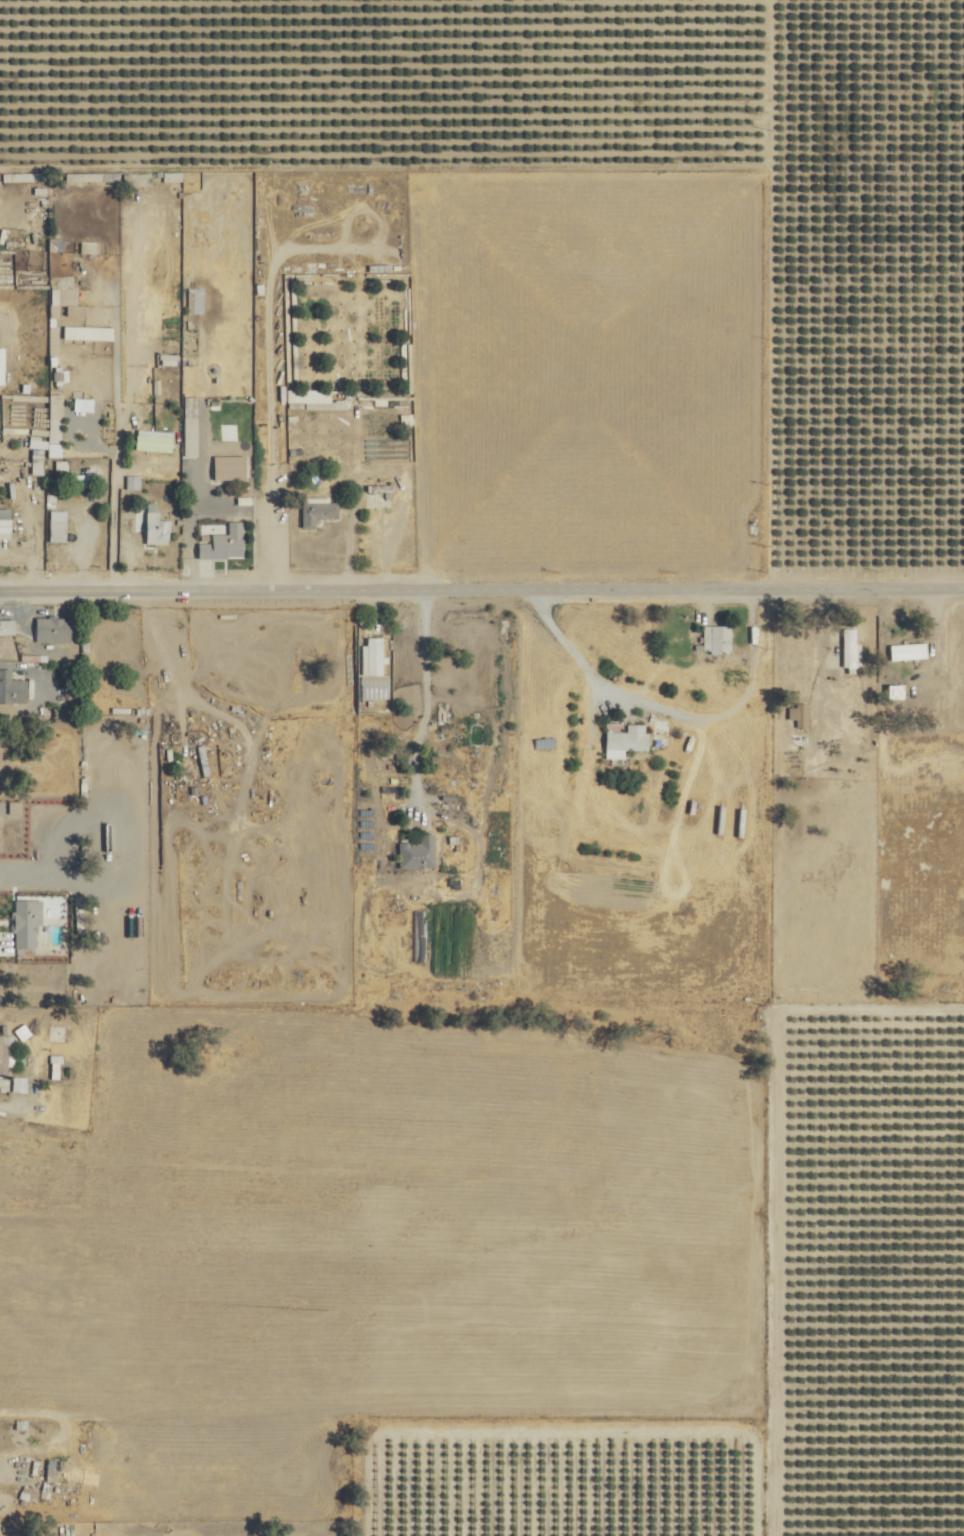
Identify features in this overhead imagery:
crop: (599, 164)
road: (775, 289)
building: (66, 298)
building: (89, 331)
building: (3, 366)
building: (314, 394)
building: (84, 403)
building: (55, 416)
building: (191, 425)
building: (154, 439)
building: (231, 466)
building: (133, 480)
building: (318, 509)
building: (154, 518)
road: (276, 520)
building: (5, 522)
building: (58, 524)
building: (230, 539)
road: (481, 585)
building: (8, 624)
building: (54, 628)
building: (717, 637)
building: (908, 650)
building: (14, 690)
building: (895, 690)
road: (424, 697)
road: (672, 709)
building: (799, 713)
building: (627, 740)
building: (208, 763)
building: (418, 851)
building: (28, 920)
building: (6, 1051)
building: (20, 1082)
crop: (858, 1255)
road: (177, 1418)

